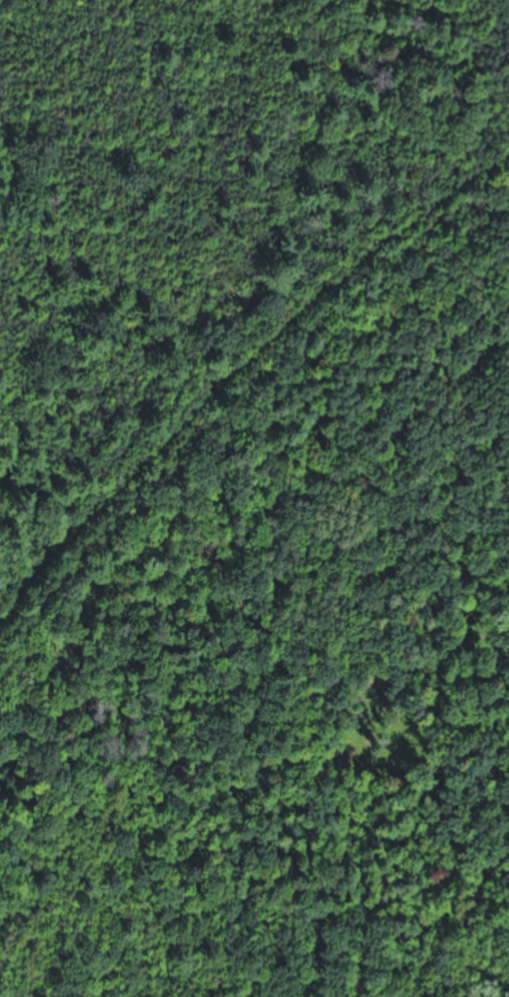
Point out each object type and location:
road: (242, 371)

